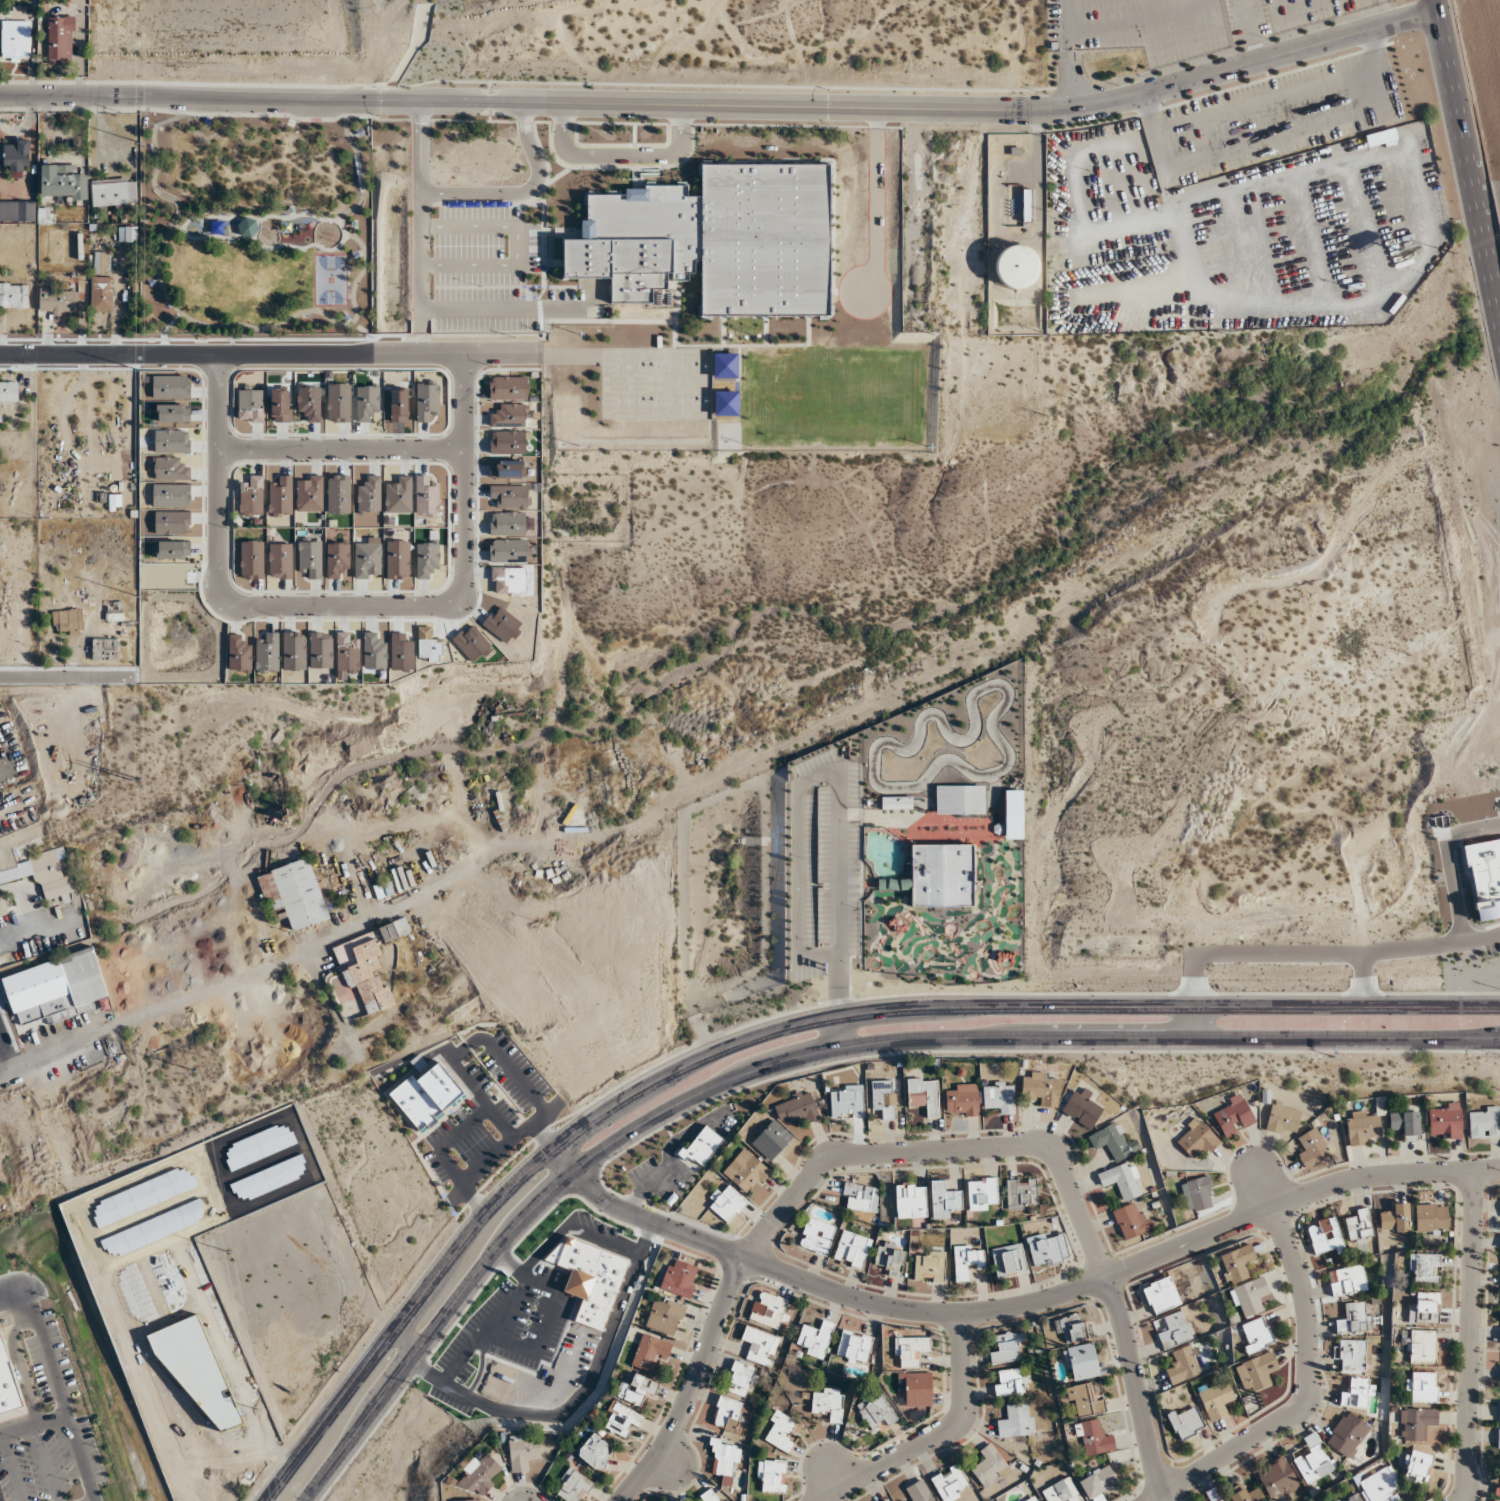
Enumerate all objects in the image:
road: (1069, 17)
dam: (364, 18)
road: (1140, 20)
building: (60, 39)
building: (15, 40)
road: (1069, 71)
road: (724, 107)
road: (162, 111)
road: (344, 121)
building: (1382, 138)
building: (16, 155)
road: (621, 155)
road: (1466, 157)
road: (359, 172)
building: (63, 182)
road: (519, 192)
building: (114, 193)
building: (25, 210)
road: (296, 215)
road: (201, 219)
park: (254, 221)
road: (177, 226)
building: (247, 227)
road: (420, 229)
building: (127, 233)
building: (715, 239)
road: (518, 245)
road: (301, 247)
building: (1017, 266)
park: (330, 279)
road: (162, 288)
building: (101, 293)
building: (14, 294)
road: (349, 296)
building: (58, 300)
road: (315, 306)
road: (519, 309)
road: (119, 311)
road: (270, 357)
building: (9, 391)
road: (348, 452)
building: (114, 610)
road: (346, 611)
building: (68, 620)
building: (104, 648)
road: (69, 676)
raceway: (973, 708)
road: (1499, 777)
road: (840, 783)
building: (957, 799)
building: (896, 802)
building: (1013, 814)
road: (906, 820)
theme park: (912, 850)
road: (1447, 863)
building: (41, 874)
building: (938, 875)
building: (383, 889)
building: (294, 893)
building: (2, 906)
building: (394, 929)
road: (312, 944)
road: (1307, 953)
building: (364, 971)
road: (1363, 978)
building: (55, 987)
road: (1010, 1005)
road: (1020, 1037)
road: (475, 1039)
building: (1041, 1088)
building: (924, 1094)
building: (427, 1096)
building: (999, 1096)
building: (884, 1097)
building: (963, 1100)
building: (847, 1101)
building: (798, 1107)
building: (1081, 1110)
building: (1233, 1116)
building: (1282, 1117)
building: (1444, 1121)
building: (1484, 1122)
building: (1405, 1123)
building: (1363, 1127)
building: (1196, 1138)
building: (772, 1139)
building: (1113, 1142)
building: (702, 1146)
building: (1311, 1148)
road: (922, 1150)
road: (566, 1162)
building: (746, 1170)
road: (475, 1172)
building: (1123, 1180)
building: (982, 1193)
building: (1021, 1193)
building: (1201, 1193)
building: (861, 1197)
building: (910, 1200)
building: (944, 1200)
building: (726, 1202)
building: (1395, 1218)
building: (1431, 1218)
building: (1131, 1220)
building: (1359, 1225)
building: (1325, 1235)
building: (816, 1236)
building: (852, 1249)
building: (1048, 1249)
building: (890, 1257)
building: (1009, 1260)
building: (968, 1261)
building: (1237, 1263)
building: (929, 1266)
building: (1423, 1269)
building: (680, 1277)
building: (1347, 1280)
building: (1161, 1295)
building: (1250, 1296)
road: (1034, 1302)
building: (1424, 1308)
building: (768, 1309)
building: (665, 1315)
building: (1354, 1318)
road: (404, 1319)
building: (1072, 1328)
building: (1172, 1329)
road: (433, 1331)
building: (1256, 1334)
road: (1468, 1336)
building: (815, 1339)
road: (50, 1345)
building: (759, 1345)
building: (853, 1346)
building: (1421, 1346)
building: (1008, 1348)
building: (911, 1351)
building: (650, 1352)
building: (1353, 1355)
building: (1081, 1362)
building: (1183, 1365)
building: (1257, 1370)
road: (1308, 1374)
building: (740, 1378)
building: (1011, 1381)
building: (7, 1385)
building: (1422, 1387)
building: (637, 1389)
building: (917, 1389)
building: (1355, 1393)
building: (1086, 1399)
building: (1216, 1400)
building: (828, 1402)
building: (876, 1411)
building: (1499, 1412)
building: (730, 1414)
building: (621, 1419)
building: (1016, 1420)
building: (1186, 1422)
building: (1417, 1423)
road: (70, 1427)
building: (780, 1431)
road: (935, 1432)
building: (1347, 1434)
building: (1093, 1438)
building: (1498, 1439)
building: (595, 1451)
building: (523, 1452)
building: (725, 1461)
building: (1313, 1463)
building: (990, 1466)
building: (1418, 1466)
building: (480, 1474)
building: (771, 1476)
building: (1277, 1478)
building: (950, 1483)
building: (1098, 1483)
building: (1379, 1485)
building: (573, 1486)
building: (919, 1491)
building: (1061, 1491)
building: (1247, 1494)
building: (709, 1496)
building: (1352, 1497)
building: (1032, 1499)
building: (1219, 1499)
building: (469, 1500)
building: (889, 1500)

